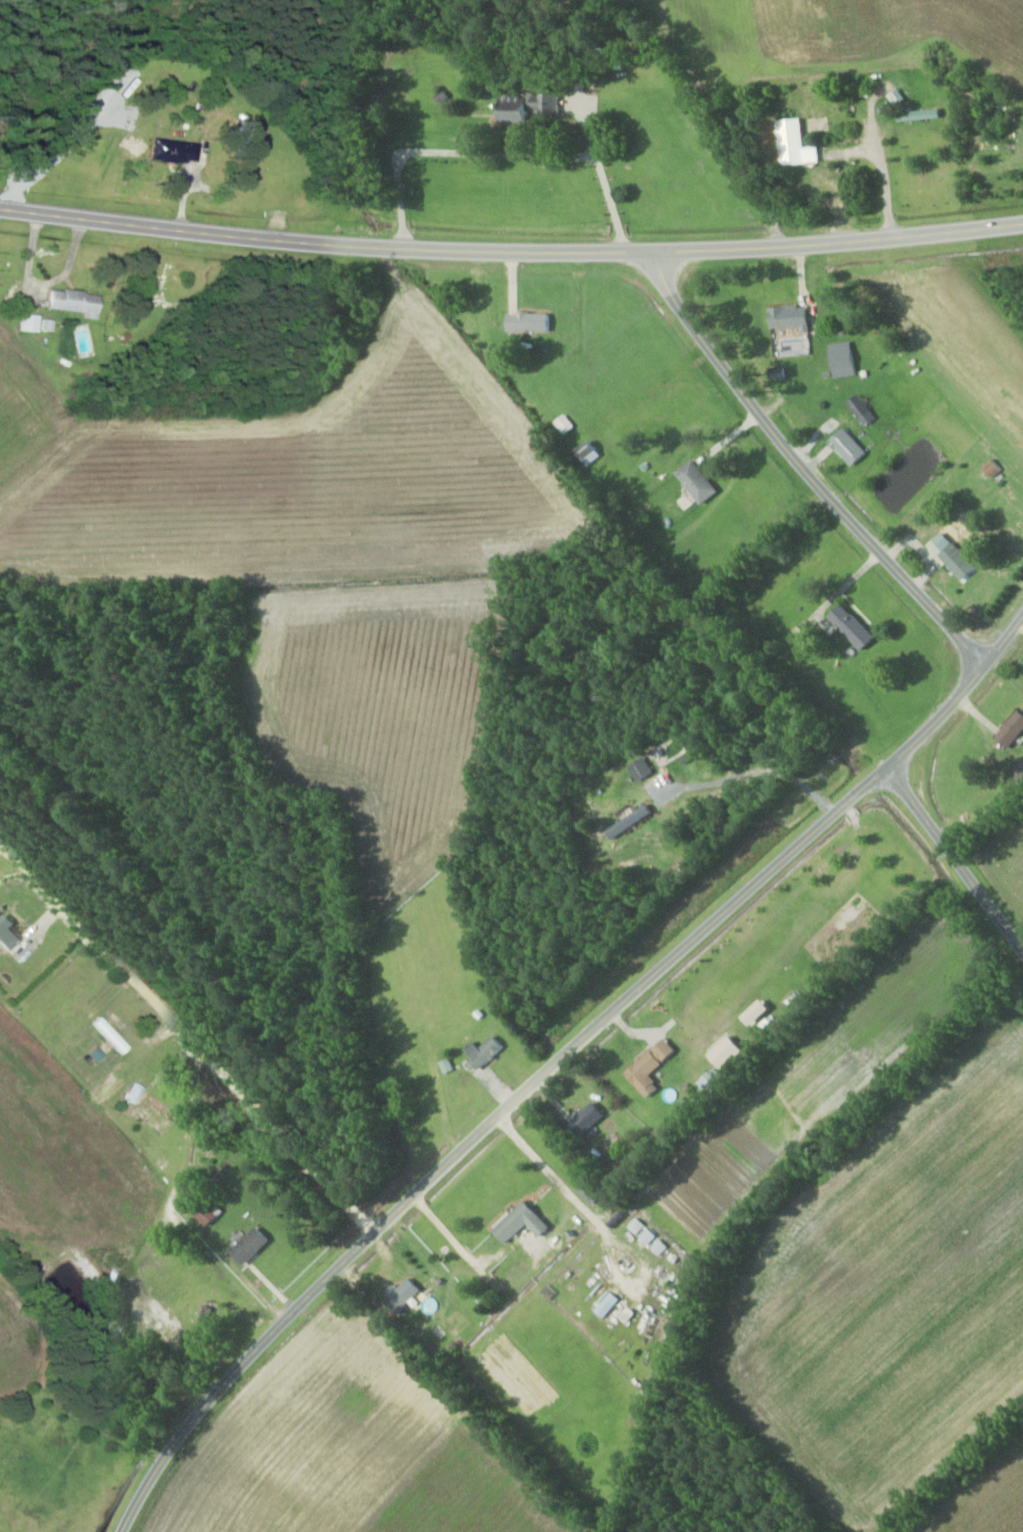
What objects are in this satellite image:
building: (530, 106)
building: (920, 115)
building: (797, 144)
building: (177, 150)
road: (511, 246)
building: (75, 302)
building: (792, 316)
building: (532, 322)
building: (845, 355)
building: (863, 410)
building: (850, 446)
building: (592, 451)
building: (993, 467)
road: (804, 469)
building: (700, 480)
building: (960, 560)
building: (857, 625)
road: (959, 694)
building: (1014, 729)
building: (1019, 772)
road: (955, 857)
building: (9, 931)
building: (111, 1035)
building: (486, 1050)
building: (648, 1072)
road: (251, 1079)
building: (715, 1081)
building: (151, 1110)
building: (590, 1118)
road: (482, 1129)
building: (592, 1192)
building: (207, 1208)
building: (525, 1222)
building: (253, 1245)
building: (405, 1292)
building: (205, 1323)

